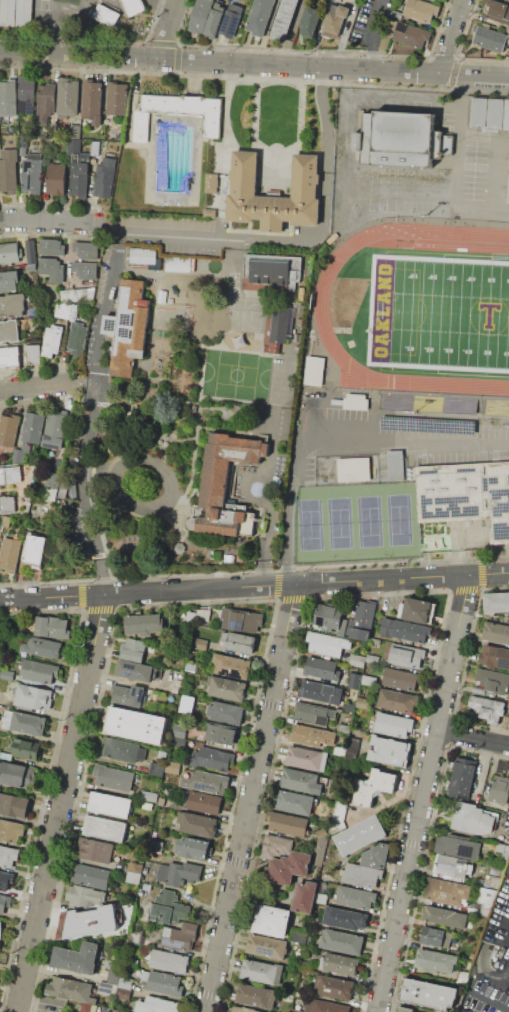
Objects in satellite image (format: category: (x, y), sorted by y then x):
building: (133, 6)
building: (344, 10)
building: (421, 10)
building: (497, 11)
building: (8, 13)
building: (24, 13)
building: (396, 14)
building: (199, 15)
building: (105, 16)
building: (259, 17)
building: (214, 20)
building: (231, 20)
building: (284, 20)
building: (311, 21)
building: (333, 24)
road: (169, 29)
road: (290, 32)
road: (374, 34)
building: (412, 34)
road: (452, 36)
building: (490, 37)
road: (254, 63)
building: (68, 96)
building: (8, 97)
building: (116, 98)
building: (27, 99)
building: (47, 99)
building: (93, 100)
building: (180, 113)
building: (489, 115)
road: (225, 117)
road: (346, 125)
building: (118, 136)
building: (402, 137)
building: (23, 145)
building: (73, 145)
building: (95, 147)
building: (508, 159)
building: (9, 171)
building: (32, 173)
building: (80, 175)
road: (499, 175)
building: (56, 178)
building: (104, 178)
building: (211, 182)
parking lot: (436, 184)
road: (222, 191)
building: (275, 194)
road: (458, 196)
building: (508, 199)
building: (209, 213)
road: (46, 221)
road: (221, 224)
road: (312, 240)
building: (51, 247)
building: (85, 249)
building: (10, 254)
building: (30, 254)
building: (143, 256)
building: (177, 263)
building: (52, 269)
building: (83, 269)
building: (9, 281)
building: (76, 293)
building: (273, 293)
building: (12, 305)
building: (67, 309)
track: (335, 310)
park: (441, 314)
building: (129, 327)
building: (10, 331)
building: (77, 337)
building: (52, 339)
building: (33, 354)
building: (9, 357)
building: (314, 371)
park: (237, 374)
road: (91, 381)
road: (42, 384)
building: (355, 401)
road: (94, 403)
building: (56, 425)
building: (33, 427)
building: (8, 429)
road: (340, 437)
building: (53, 442)
parking lot: (387, 443)
building: (19, 456)
building: (396, 466)
building: (355, 469)
building: (13, 474)
building: (2, 476)
building: (53, 480)
building: (215, 482)
building: (72, 492)
building: (51, 494)
building: (28, 495)
building: (466, 495)
building: (7, 503)
road: (268, 506)
building: (5, 521)
park: (400, 521)
park: (369, 522)
park: (340, 524)
park: (310, 525)
building: (35, 551)
building: (10, 554)
road: (494, 557)
road: (480, 572)
road: (102, 575)
road: (285, 575)
road: (254, 587)
road: (495, 587)
road: (464, 589)
building: (496, 602)
building: (417, 610)
building: (199, 615)
building: (330, 618)
building: (241, 620)
building: (364, 620)
building: (143, 623)
building: (51, 626)
building: (405, 631)
building: (495, 633)
building: (241, 642)
building: (201, 644)
building: (326, 645)
building: (43, 647)
building: (133, 649)
building: (406, 656)
building: (494, 657)
building: (372, 658)
building: (356, 659)
building: (190, 666)
building: (231, 666)
building: (322, 668)
building: (134, 670)
building: (39, 671)
building: (7, 675)
building: (400, 679)
building: (354, 680)
building: (367, 680)
building: (493, 683)
building: (175, 687)
building: (226, 688)
building: (320, 691)
building: (130, 694)
building: (33, 697)
building: (396, 700)
building: (362, 702)
building: (185, 703)
building: (348, 706)
building: (487, 709)
building: (225, 713)
building: (313, 713)
building: (24, 722)
building: (393, 724)
building: (137, 725)
building: (344, 728)
building: (179, 729)
building: (221, 733)
building: (308, 735)
road: (473, 735)
building: (178, 742)
building: (352, 746)
building: (27, 748)
building: (123, 750)
building: (338, 750)
building: (390, 751)
building: (212, 758)
building: (306, 759)
building: (156, 767)
building: (172, 767)
building: (464, 773)
building: (18, 774)
building: (113, 777)
building: (206, 781)
building: (304, 781)
building: (373, 787)
road: (423, 794)
building: (500, 794)
building: (150, 796)
road: (252, 798)
building: (160, 801)
road: (62, 802)
building: (295, 802)
building: (204, 803)
building: (110, 804)
building: (14, 805)
building: (472, 821)
building: (197, 824)
building: (289, 824)
building: (507, 824)
building: (105, 828)
building: (11, 830)
building: (321, 832)
building: (360, 835)
building: (276, 845)
building: (193, 847)
building: (457, 847)
building: (500, 847)
building: (95, 849)
building: (154, 849)
building: (320, 850)
building: (8, 855)
building: (377, 855)
building: (289, 867)
building: (453, 868)
building: (134, 873)
building: (178, 873)
building: (360, 874)
building: (89, 876)
building: (5, 880)
building: (492, 880)
building: (147, 886)
building: (446, 893)
building: (85, 895)
building: (489, 895)
building: (166, 896)
building: (355, 896)
building: (305, 897)
building: (321, 897)
building: (4, 904)
building: (486, 909)
building: (172, 911)
building: (345, 918)
building: (442, 919)
building: (272, 920)
building: (89, 922)
building: (300, 936)
building: (0, 937)
building: (180, 937)
building: (434, 940)
building: (342, 941)
building: (267, 947)
building: (496, 948)
building: (80, 960)
building: (169, 961)
building: (340, 964)
building: (435, 964)
building: (261, 971)
building: (114, 973)
building: (463, 977)
building: (126, 983)
building: (161, 983)
building: (333, 987)
building: (71, 989)
building: (107, 989)
building: (124, 993)
building: (428, 994)
building: (256, 996)
parking lot: (482, 1000)
road: (490, 1000)
building: (157, 1005)
building: (324, 1006)
building: (85, 1007)
building: (244, 1009)
building: (296, 1010)
building: (402, 1010)
building: (117, 1011)

